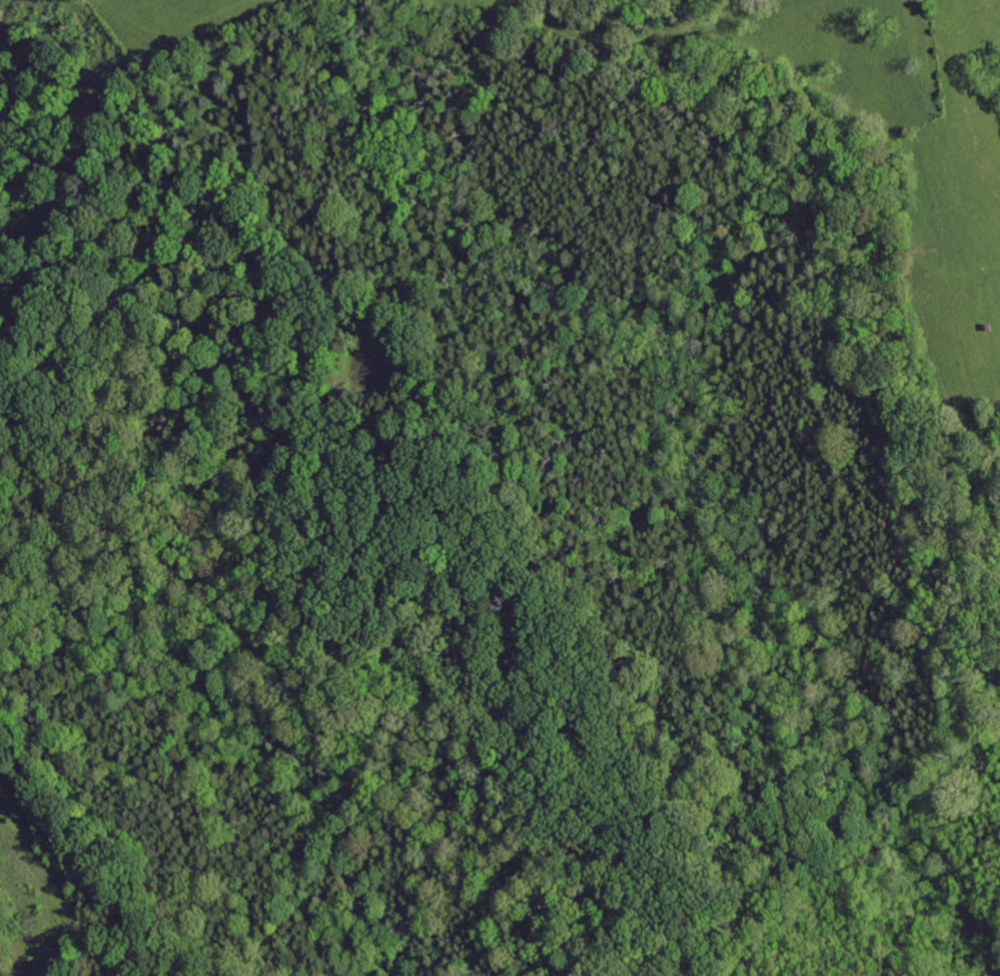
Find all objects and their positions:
road: (34, 860)

